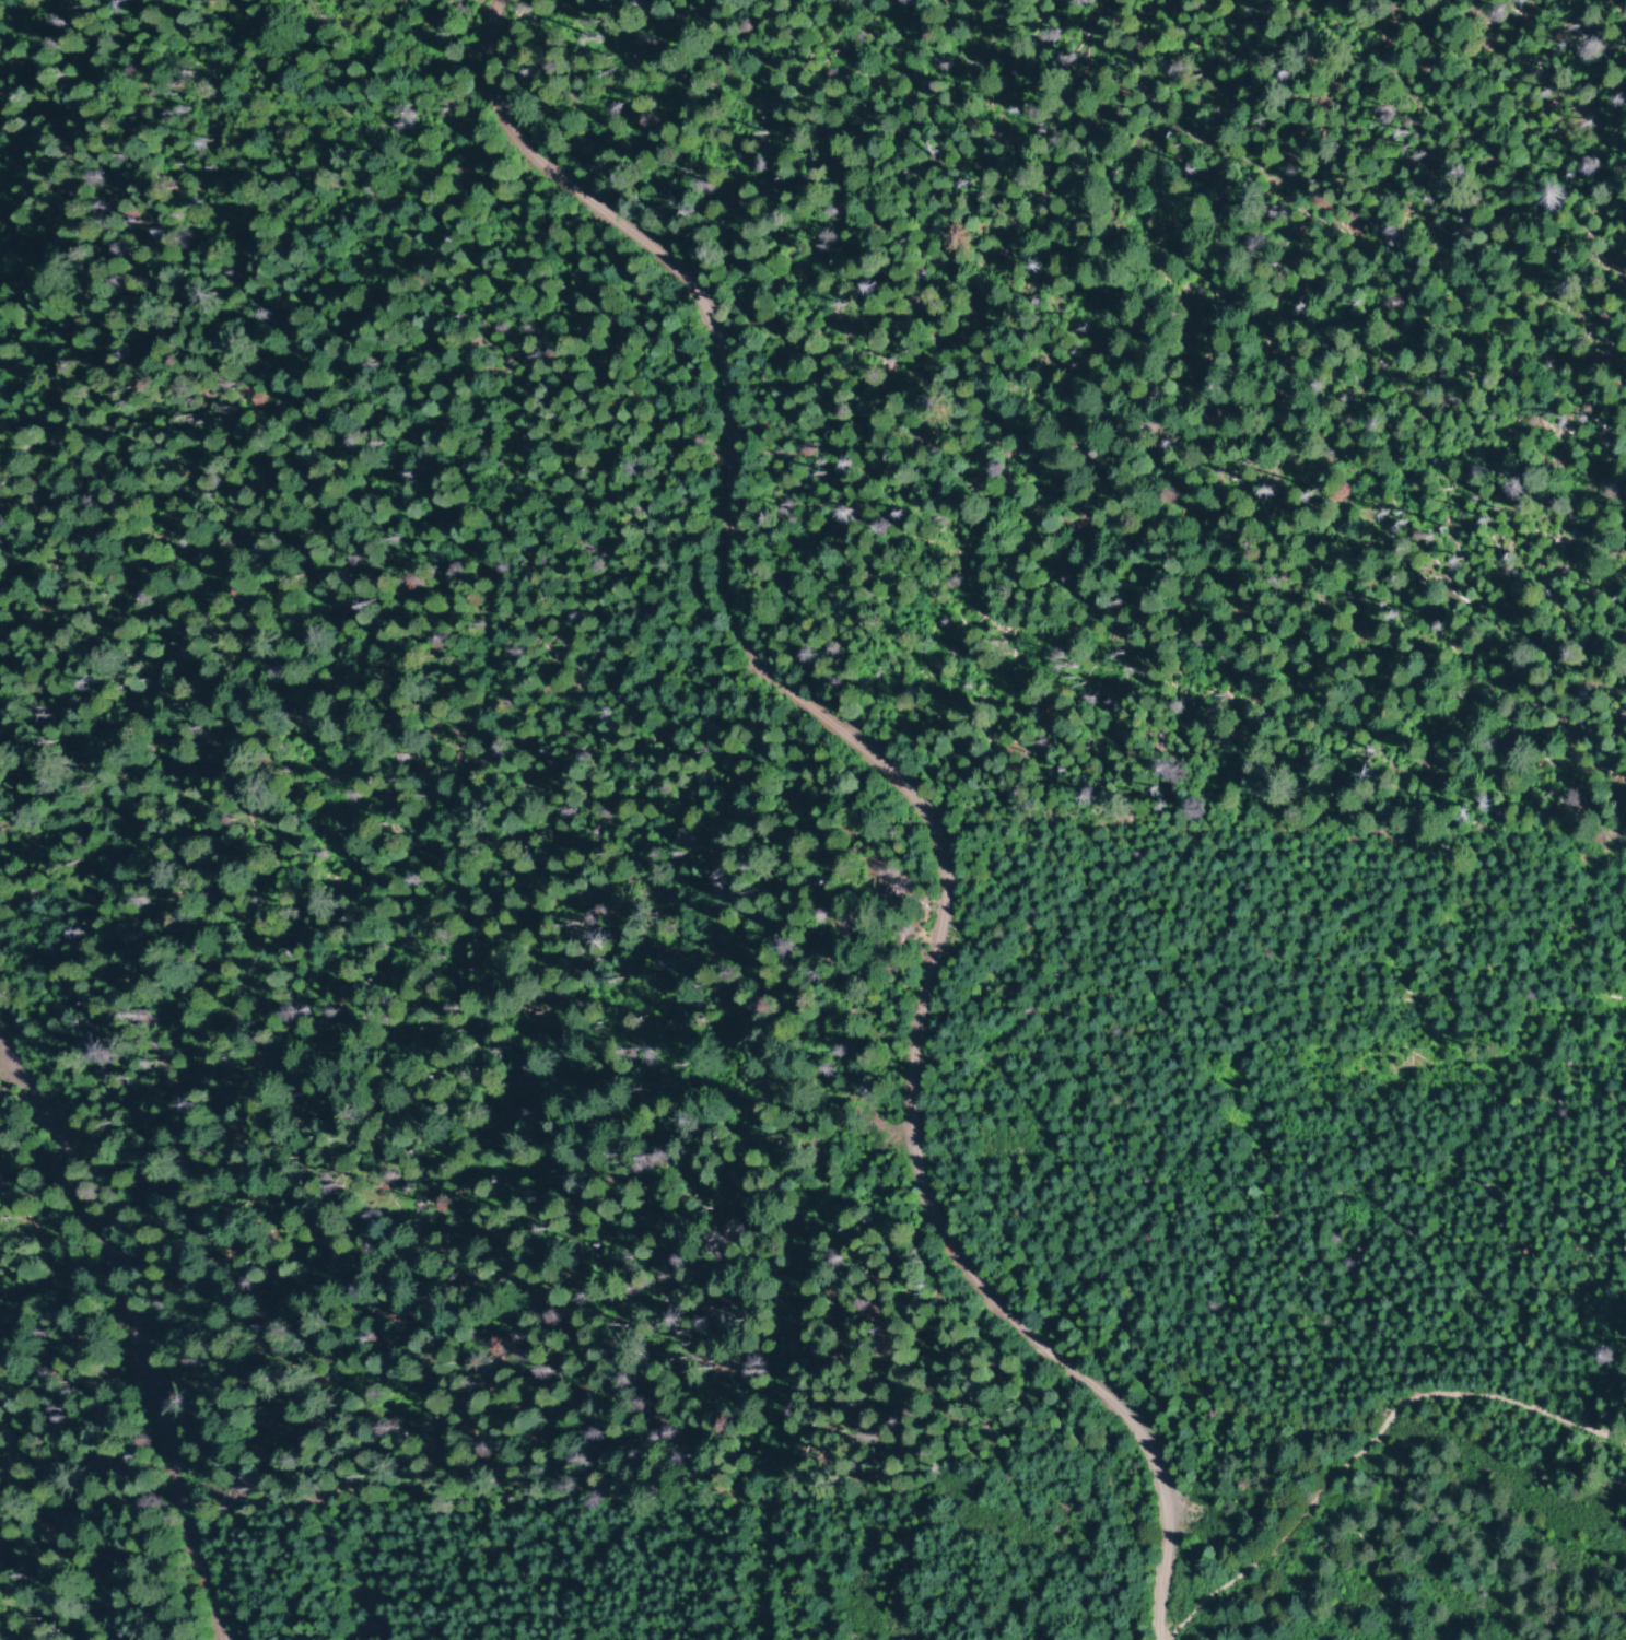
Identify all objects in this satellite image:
road: (912, 788)
road: (132, 1338)
road: (789, 1366)
road: (1367, 1441)

